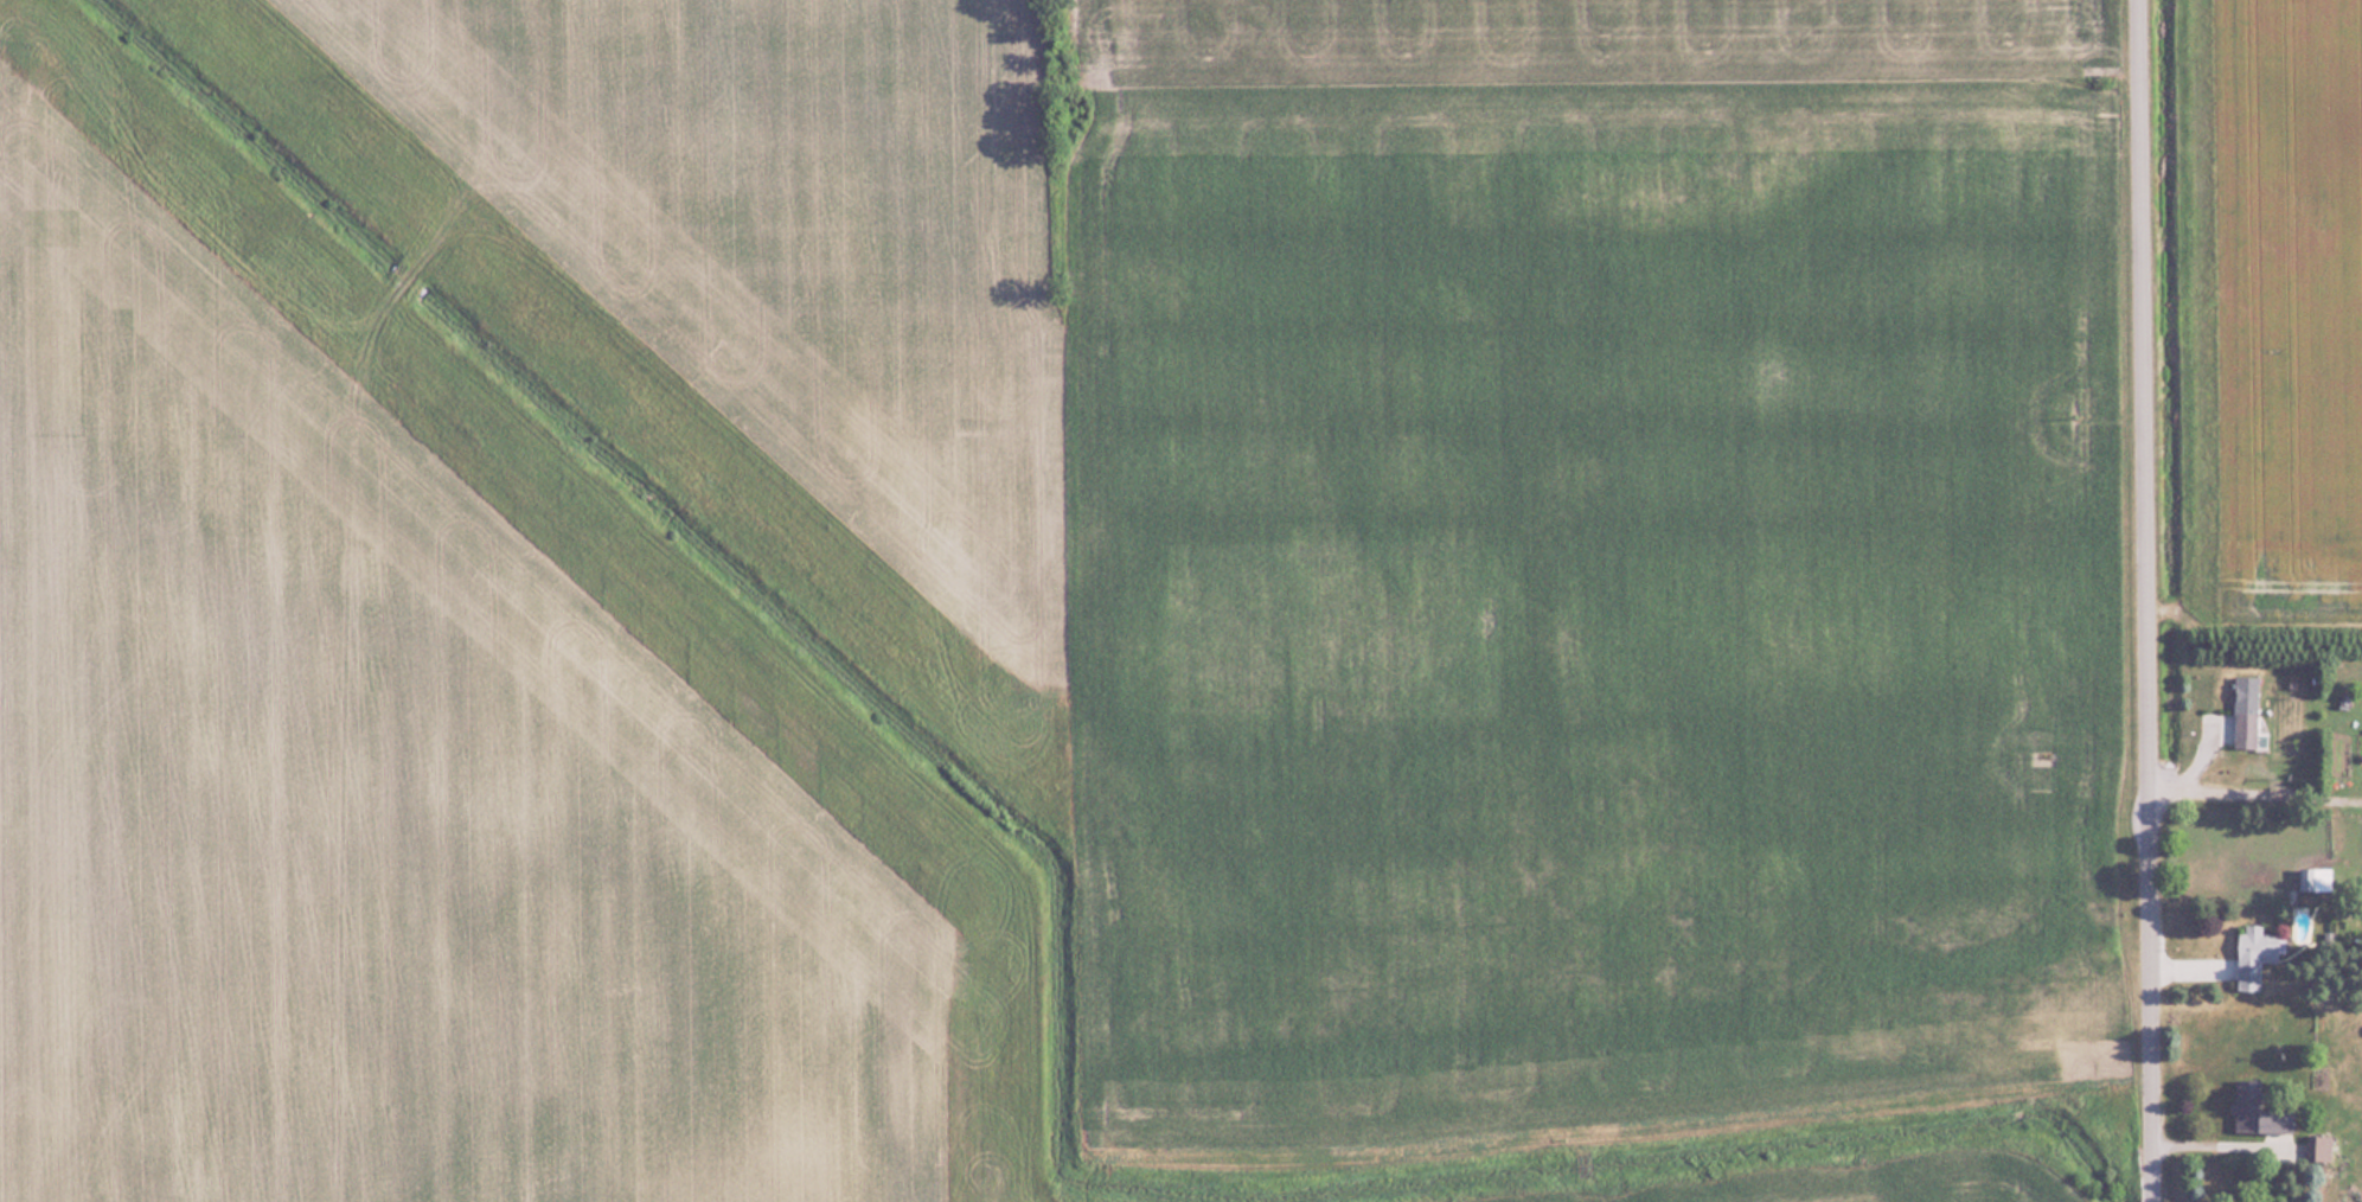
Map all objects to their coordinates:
road: (2147, 600)
building: (2246, 711)
building: (2315, 880)
building: (2255, 955)
building: (2258, 1112)
building: (2318, 1147)

